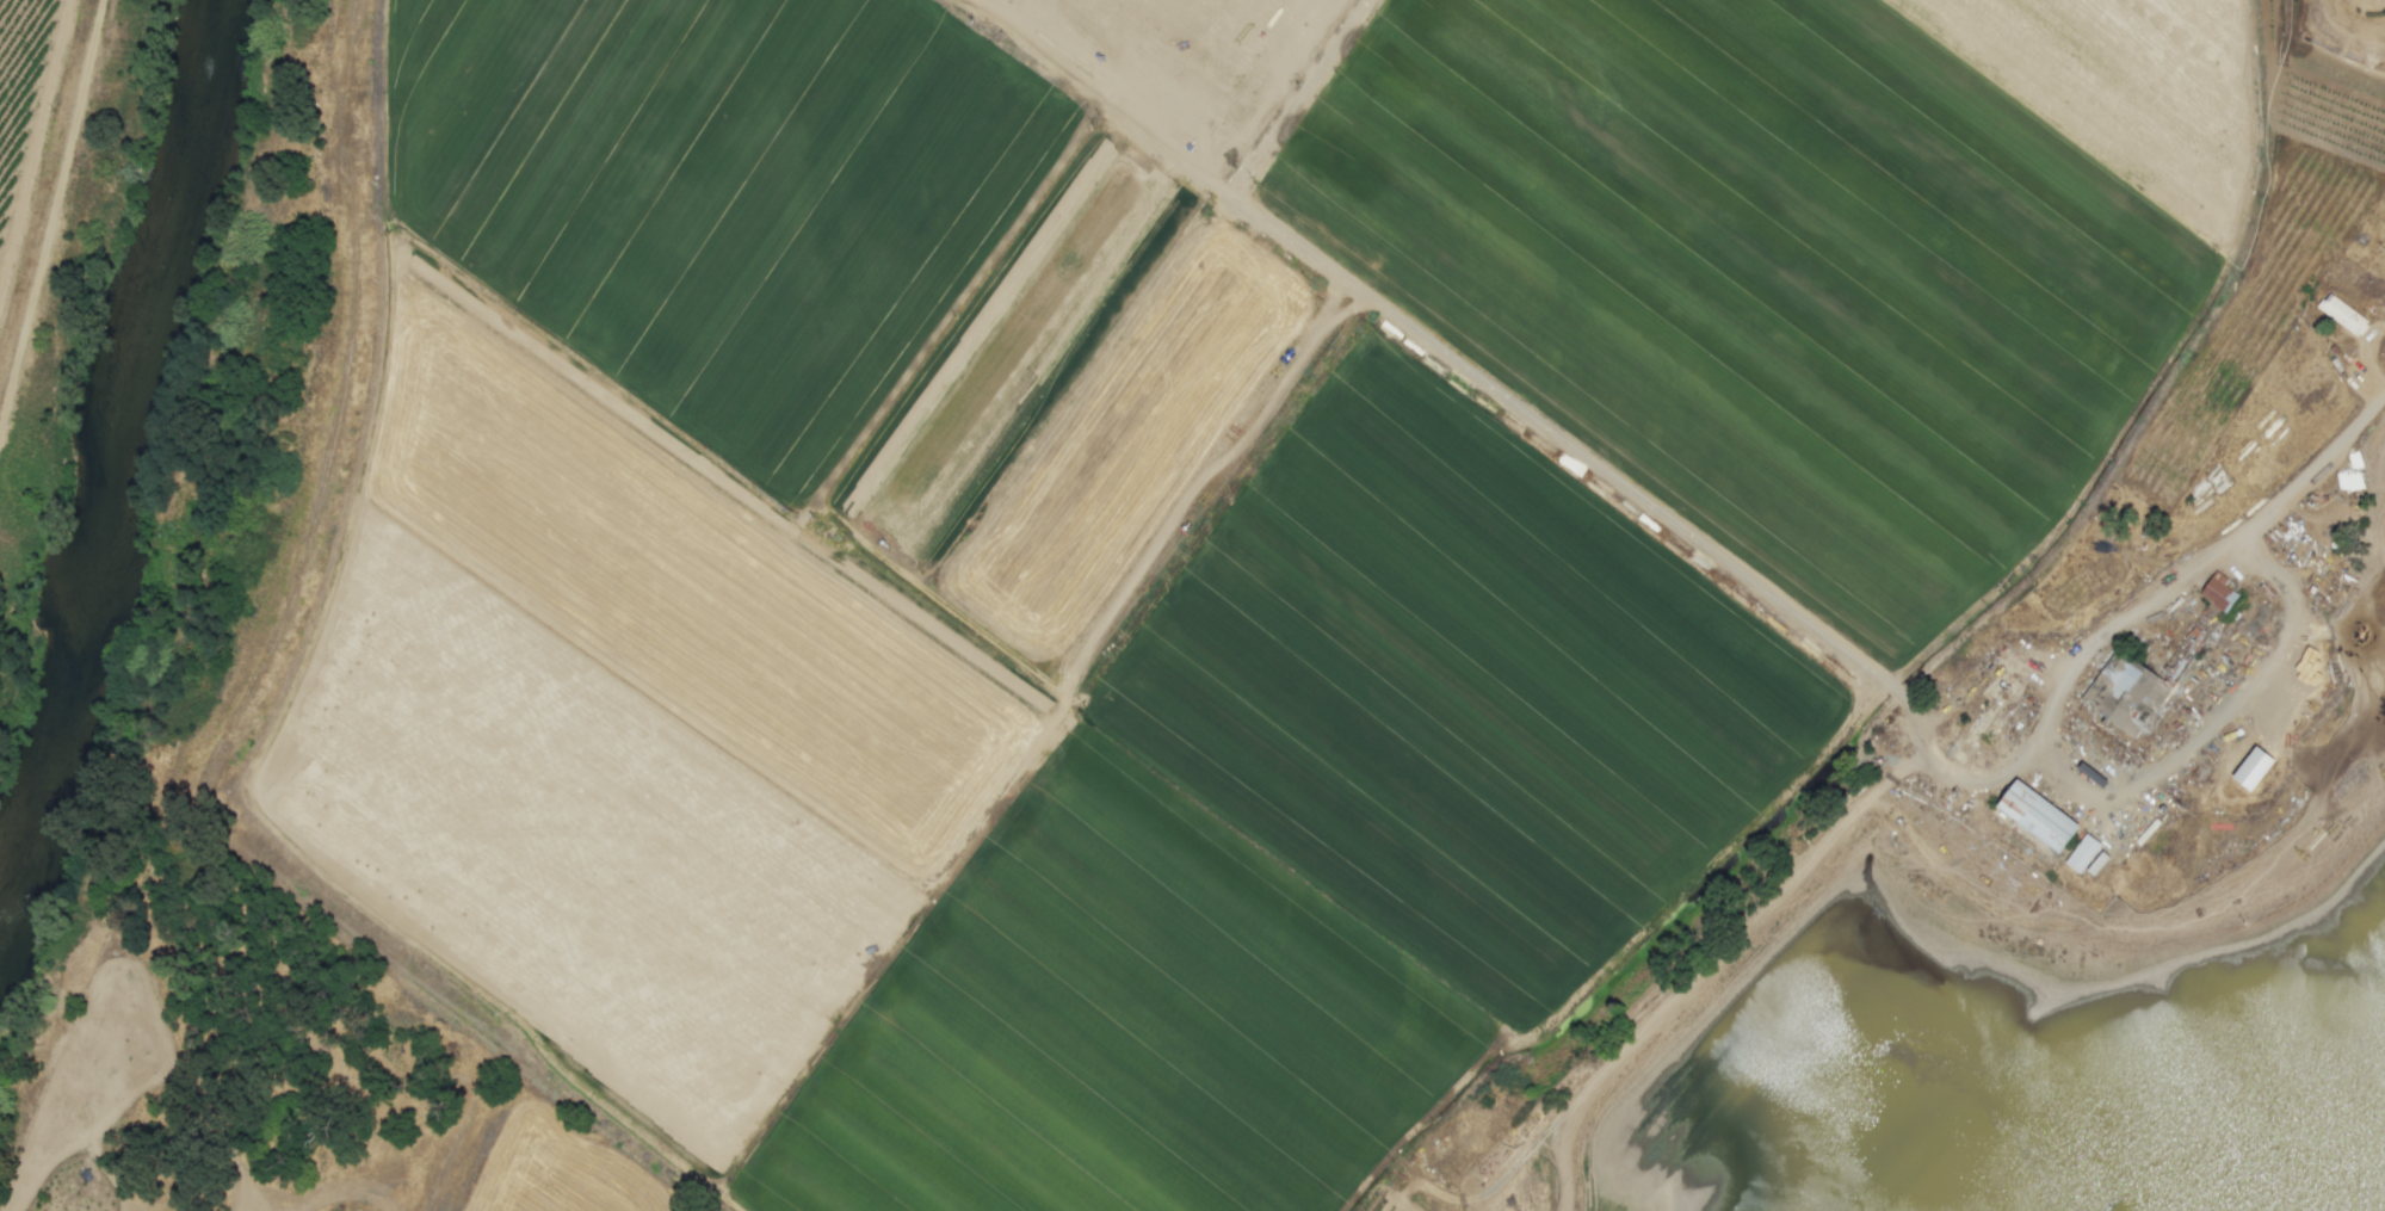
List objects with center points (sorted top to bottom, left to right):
building: (2342, 315)
river: (123, 467)
road: (2196, 570)
building: (2217, 594)
building: (2126, 693)
road: (2217, 717)
building: (2251, 768)
building: (2035, 816)
building: (2081, 853)
building: (2095, 864)

